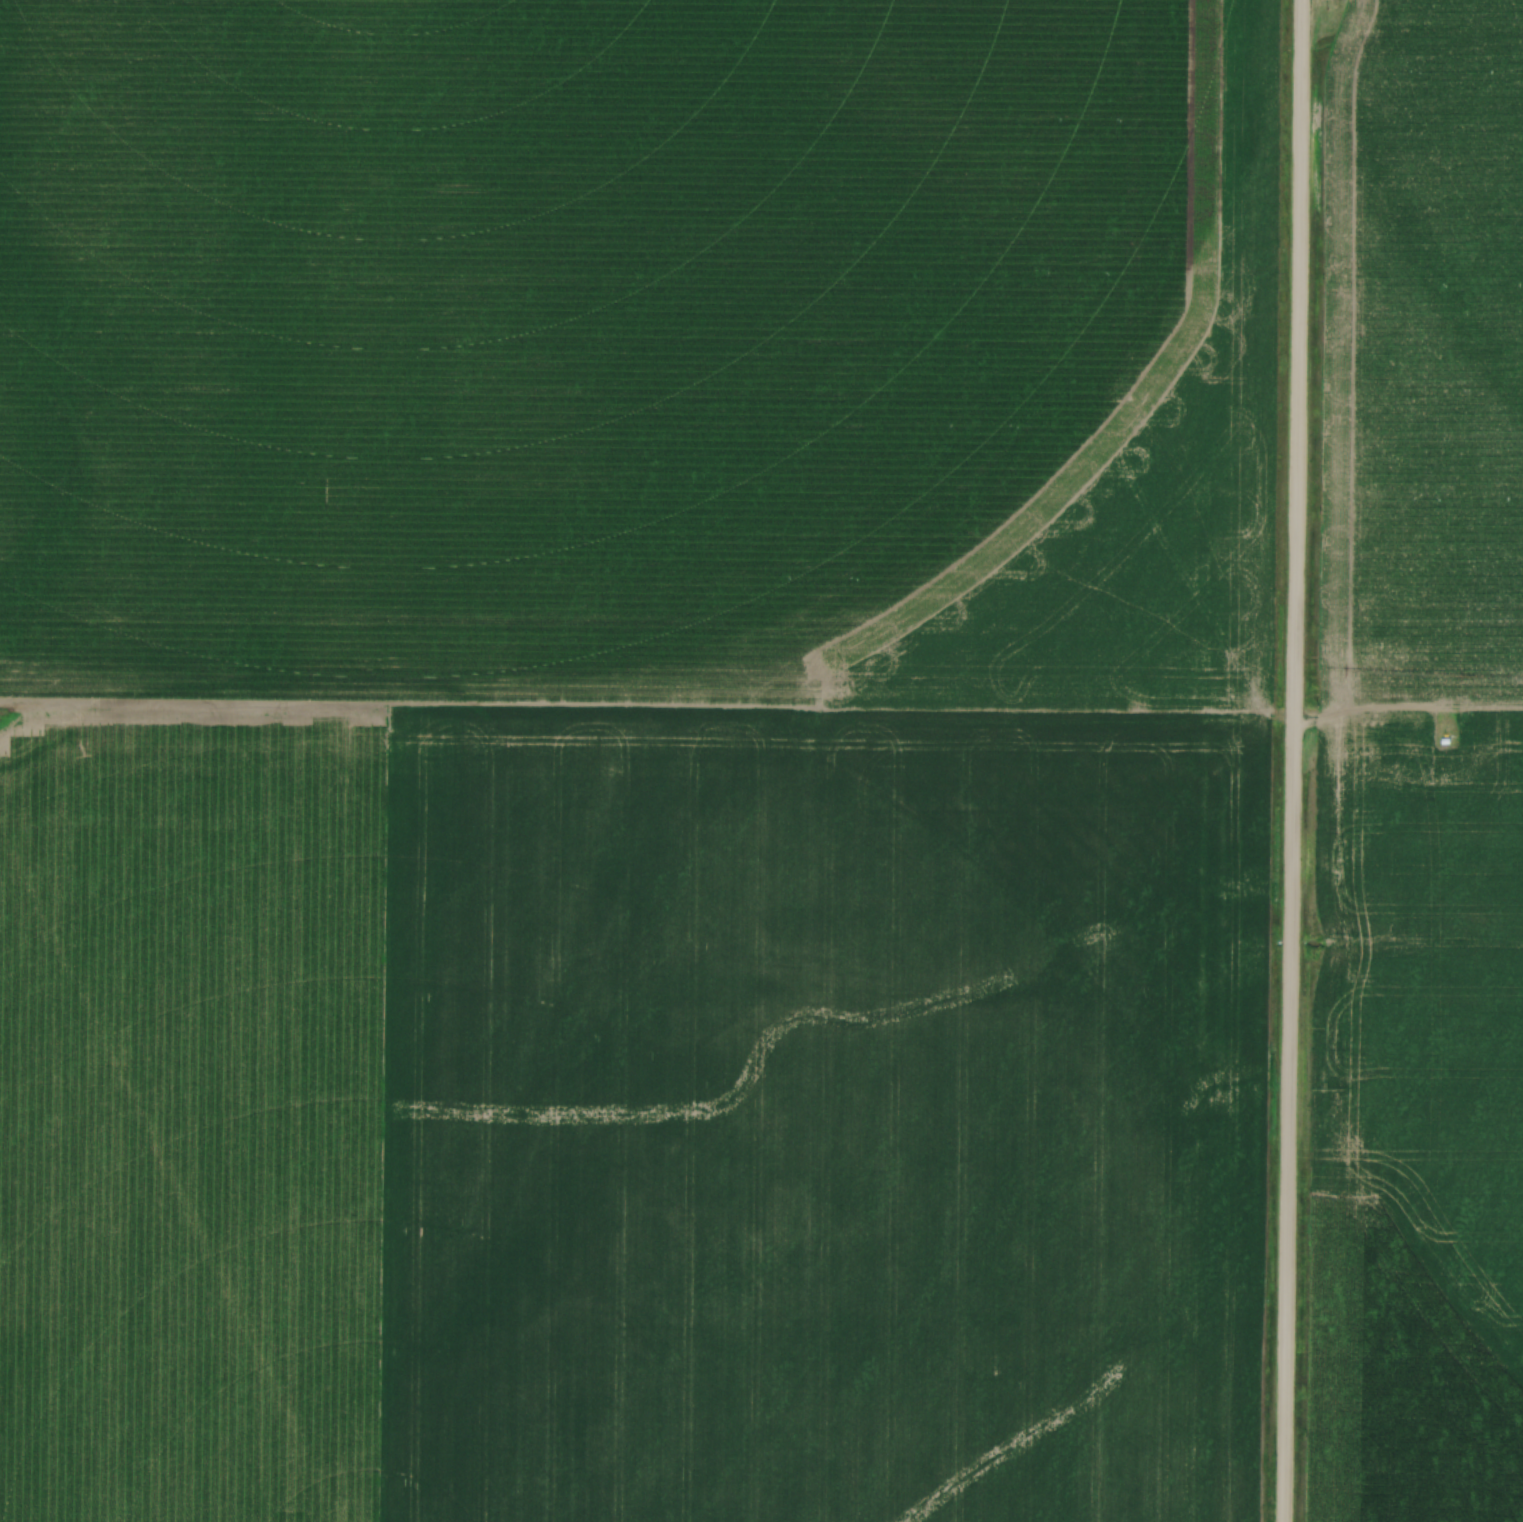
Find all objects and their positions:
road: (1293, 761)

